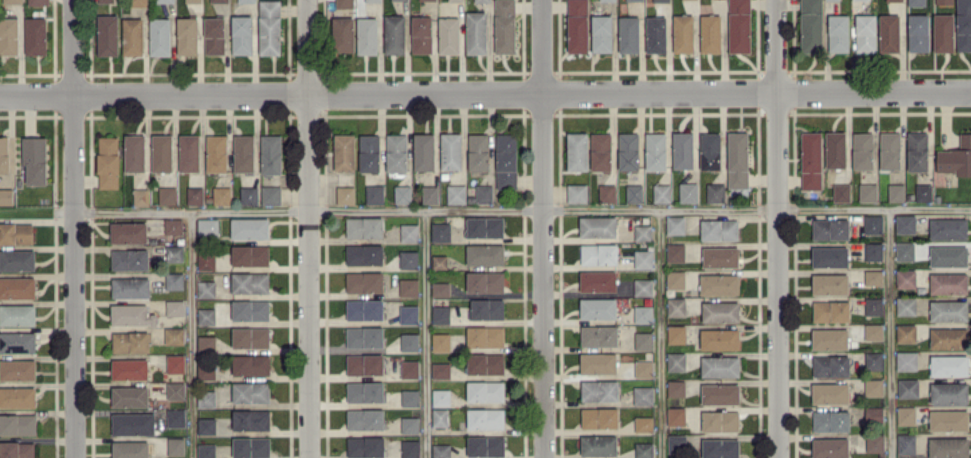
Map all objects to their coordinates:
building: (105, 0)
building: (246, 0)
building: (373, 0)
building: (431, 0)
building: (455, 0)
building: (482, 0)
building: (607, 0)
building: (630, 0)
building: (661, 0)
building: (893, 0)
building: (12, 1)
building: (164, 1)
building: (192, 1)
building: (219, 1)
building: (943, 1)
building: (37, 2)
building: (138, 2)
building: (916, 2)
building: (344, 3)
building: (739, 25)
building: (811, 25)
building: (963, 25)
building: (504, 26)
building: (577, 26)
building: (269, 27)
building: (475, 32)
building: (683, 32)
building: (865, 32)
building: (888, 32)
building: (917, 32)
building: (943, 32)
building: (601, 33)
building: (710, 33)
building: (838, 33)
building: (107, 34)
building: (241, 34)
building: (342, 34)
building: (394, 34)
building: (421, 34)
building: (628, 34)
building: (656, 34)
building: (35, 35)
building: (187, 35)
building: (214, 35)
building: (367, 35)
building: (448, 35)
building: (8, 36)
building: (132, 36)
building: (159, 36)
road: (485, 96)
building: (682, 149)
building: (835, 149)
building: (450, 150)
building: (577, 150)
building: (710, 150)
building: (862, 150)
building: (889, 150)
building: (344, 151)
building: (423, 151)
building: (478, 151)
building: (600, 151)
building: (628, 151)
building: (655, 151)
building: (917, 151)
building: (134, 152)
building: (161, 152)
building: (188, 152)
building: (243, 152)
building: (369, 152)
building: (396, 152)
building: (4, 153)
building: (216, 153)
building: (270, 154)
building: (956, 157)
building: (34, 159)
building: (737, 159)
building: (506, 160)
building: (811, 160)
building: (107, 162)
building: (923, 191)
building: (576, 192)
building: (607, 192)
building: (661, 192)
building: (688, 192)
building: (715, 192)
building: (841, 192)
building: (867, 192)
building: (895, 192)
building: (374, 193)
building: (456, 193)
building: (483, 193)
building: (634, 193)
building: (270, 194)
building: (345, 194)
building: (402, 194)
building: (429, 194)
building: (167, 195)
building: (194, 195)
building: (221, 195)
building: (248, 195)
building: (6, 196)
building: (140, 196)
road: (521, 211)
building: (873, 223)
building: (905, 223)
building: (675, 224)
building: (173, 225)
building: (207, 226)
building: (597, 226)
building: (249, 227)
building: (364, 227)
building: (484, 227)
road: (542, 228)
road: (778, 228)
building: (830, 228)
building: (948, 228)
road: (72, 229)
road: (306, 229)
building: (719, 229)
building: (440, 231)
building: (128, 232)
building: (409, 232)
building: (643, 232)
building: (16, 233)
building: (873, 250)
building: (904, 250)
building: (675, 252)
building: (174, 253)
building: (599, 253)
building: (364, 254)
building: (485, 254)
building: (250, 255)
building: (948, 255)
building: (829, 256)
building: (720, 257)
building: (17, 259)
building: (130, 259)
building: (408, 259)
building: (643, 259)
building: (205, 260)
building: (439, 261)
building: (873, 277)
building: (905, 278)
building: (675, 279)
building: (174, 280)
building: (364, 281)
building: (485, 281)
building: (598, 281)
building: (250, 282)
building: (829, 283)
building: (948, 283)
building: (719, 284)
building: (408, 286)
building: (643, 286)
building: (17, 287)
building: (130, 287)
building: (206, 288)
building: (440, 288)
building: (873, 305)
building: (905, 305)
building: (676, 306)
building: (174, 307)
building: (487, 308)
building: (598, 308)
building: (364, 309)
building: (250, 310)
building: (830, 310)
building: (948, 310)
building: (720, 311)
building: (643, 313)
building: (17, 314)
building: (132, 314)
building: (408, 314)
building: (440, 314)
building: (206, 316)
building: (873, 331)
building: (906, 332)
road: (889, 333)
road: (658, 334)
building: (676, 334)
building: (174, 335)
road: (426, 335)
building: (599, 335)
road: (190, 336)
building: (364, 336)
building: (485, 336)
building: (250, 337)
building: (947, 337)
building: (719, 338)
building: (829, 338)
building: (643, 340)
building: (17, 341)
building: (130, 341)
building: (409, 341)
building: (440, 341)
building: (206, 344)
building: (873, 360)
building: (906, 360)
building: (676, 361)
building: (598, 362)
building: (175, 363)
building: (485, 363)
building: (250, 364)
building: (364, 364)
building: (830, 365)
building: (948, 365)
building: (720, 366)
building: (129, 368)
building: (205, 368)
building: (409, 368)
building: (643, 368)
building: (17, 369)
building: (440, 370)
building: (873, 387)
building: (907, 387)
building: (676, 388)
building: (175, 390)
building: (485, 390)
building: (599, 390)
building: (365, 391)
building: (250, 392)
building: (948, 392)
building: (720, 393)
building: (830, 393)
building: (643, 395)
building: (129, 396)
building: (17, 397)
building: (410, 397)
building: (441, 397)
building: (206, 398)
building: (873, 414)
building: (676, 415)
building: (905, 415)
building: (175, 417)
building: (440, 417)
building: (599, 417)
building: (365, 418)
building: (485, 418)
building: (251, 419)
building: (720, 420)
building: (830, 420)
building: (948, 420)
building: (132, 423)
building: (643, 423)
building: (17, 424)
building: (409, 424)
building: (206, 425)
building: (874, 442)
building: (677, 443)
building: (906, 443)
building: (598, 444)
building: (485, 445)
building: (175, 446)
building: (251, 446)
building: (365, 446)
building: (829, 447)
building: (948, 447)
building: (410, 448)
building: (720, 448)
building: (17, 449)
building: (130, 449)
building: (643, 449)
building: (206, 450)
building: (441, 450)

